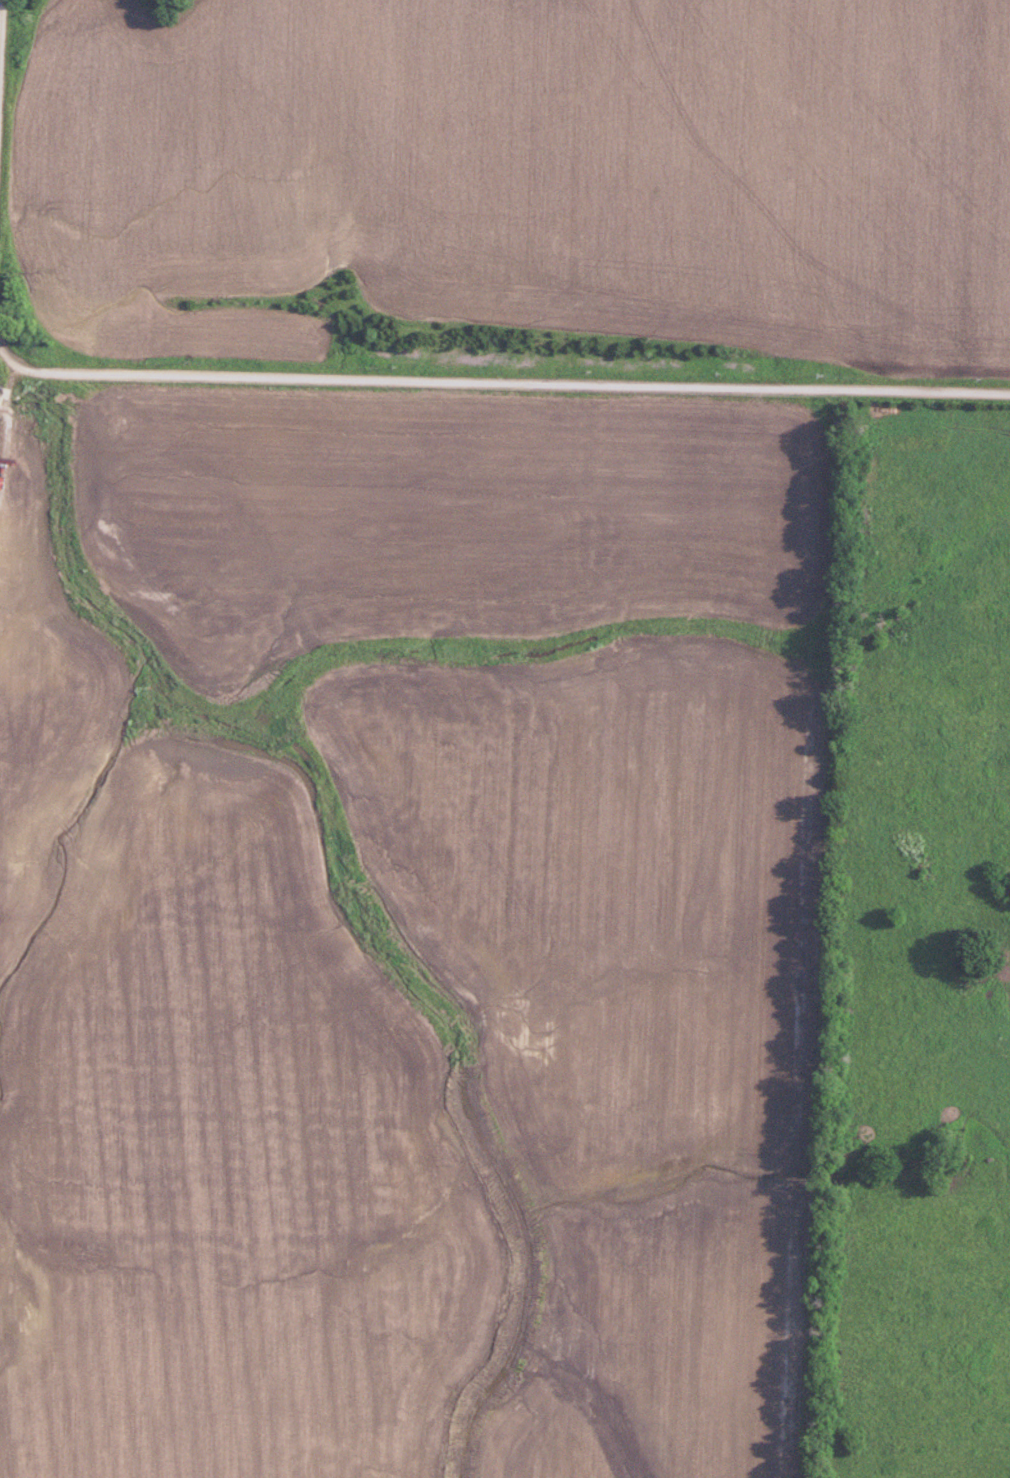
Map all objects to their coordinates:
road: (0, 24)
road: (495, 382)
road: (9, 431)

